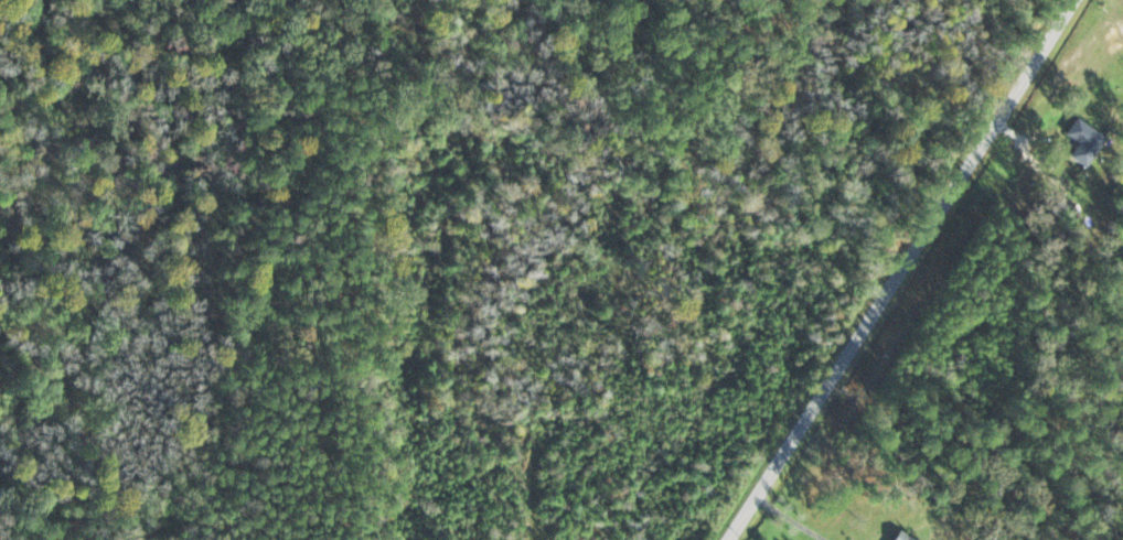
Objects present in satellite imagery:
building: (1082, 142)
road: (737, 186)
road: (949, 272)
building: (896, 537)

